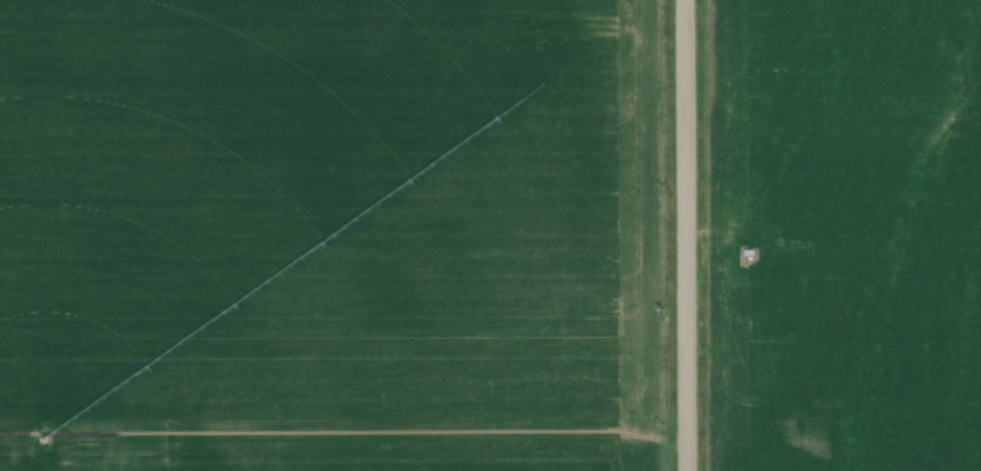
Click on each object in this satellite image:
road: (683, 235)

